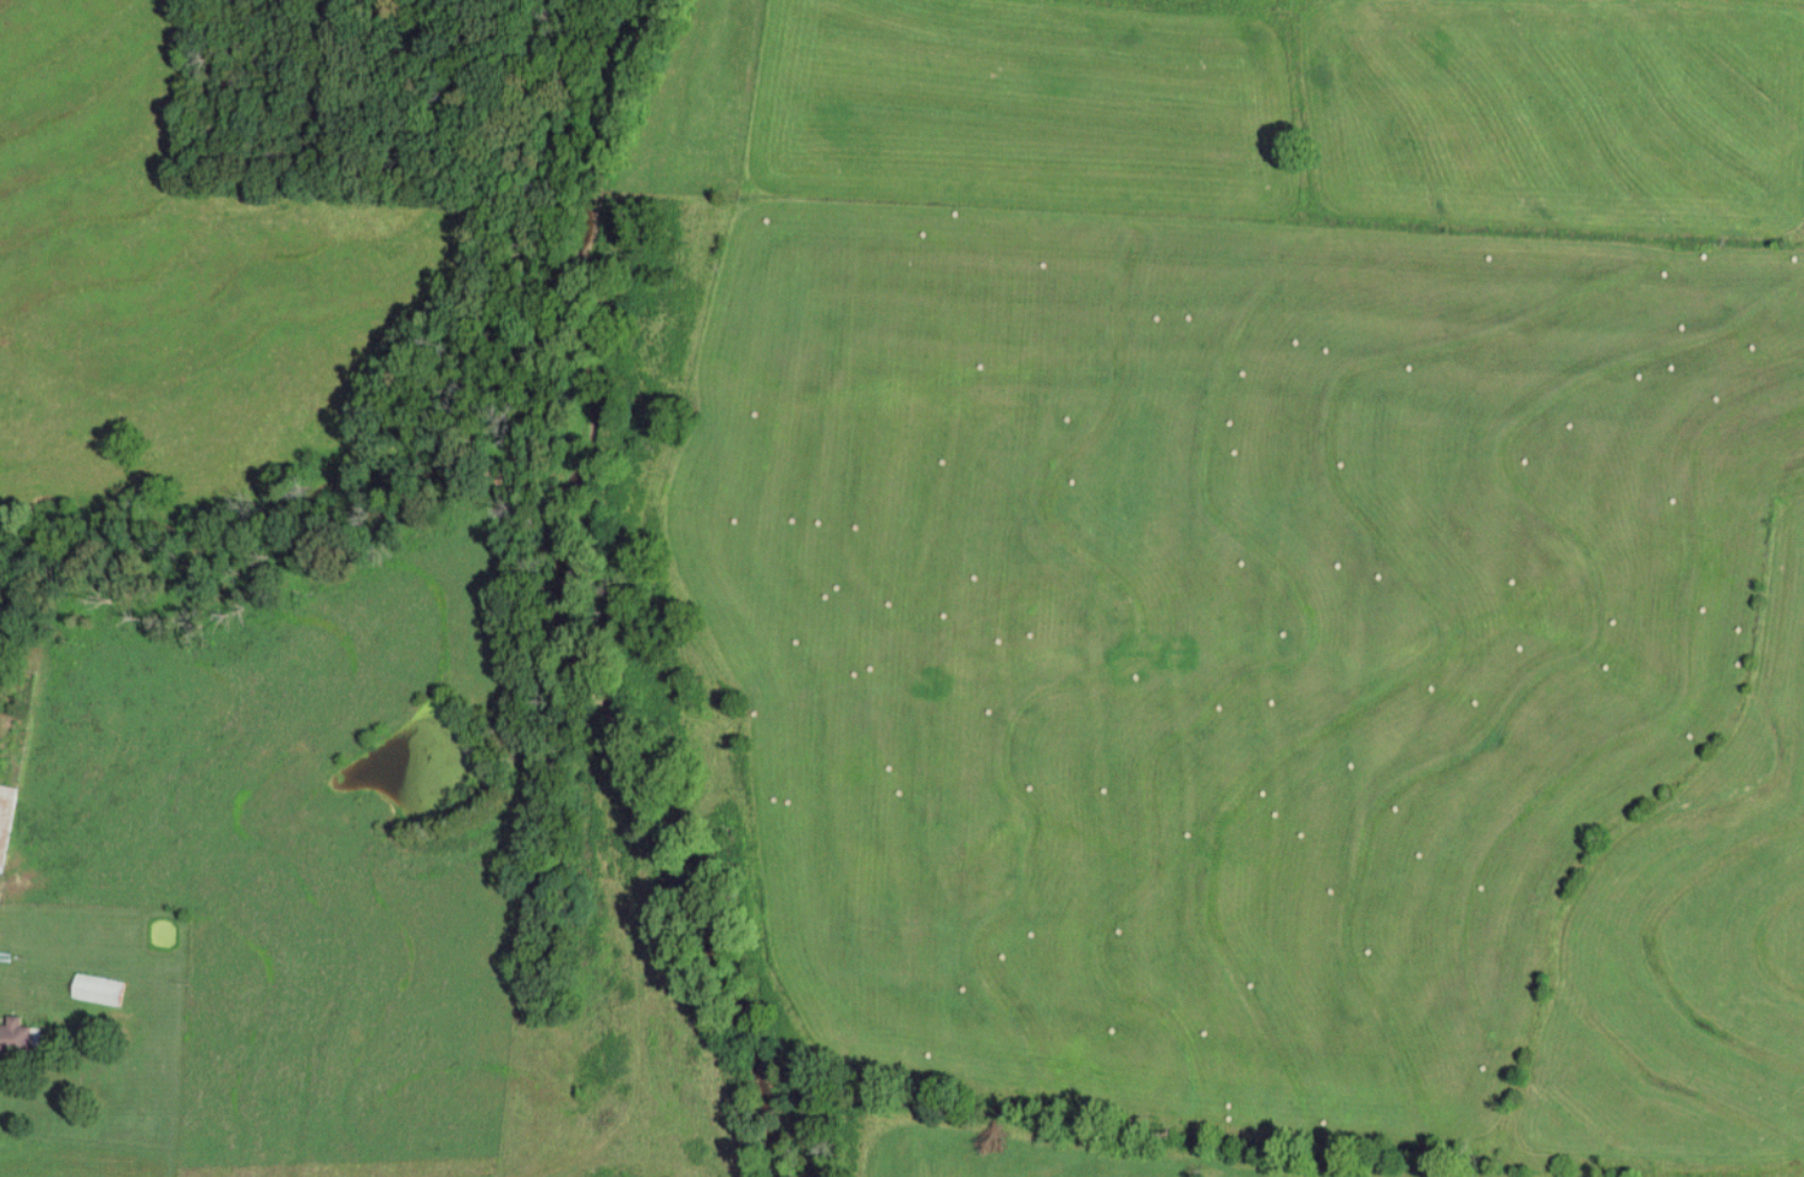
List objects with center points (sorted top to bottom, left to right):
building: (12, 744)
building: (99, 991)
building: (16, 1040)

